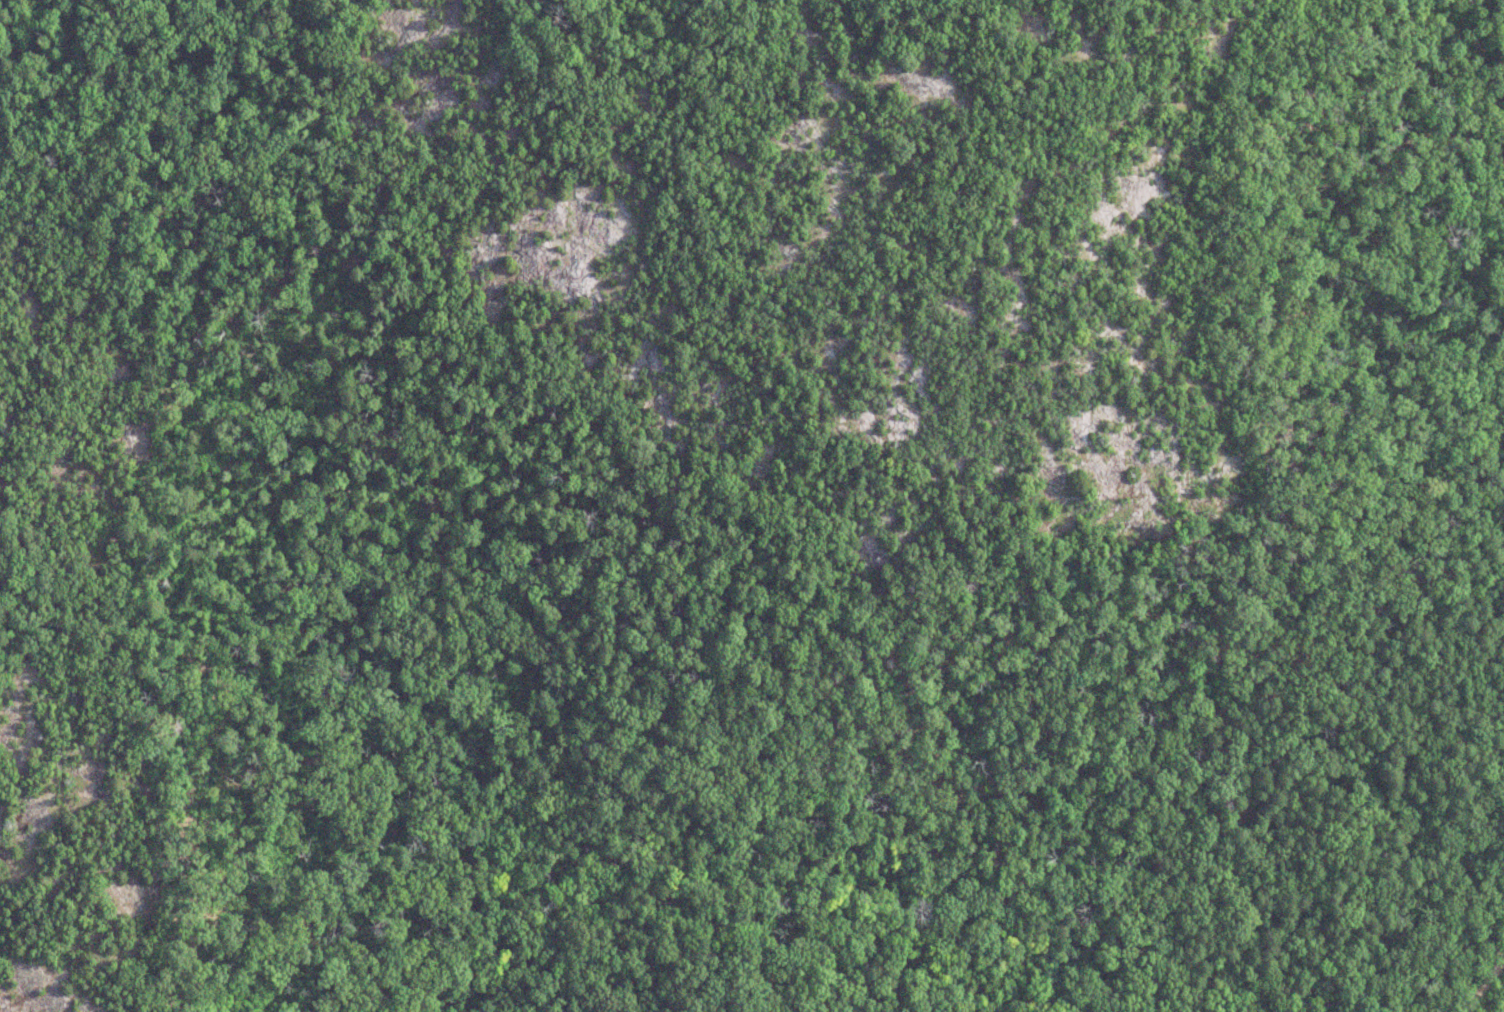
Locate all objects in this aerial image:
road: (1479, 982)

